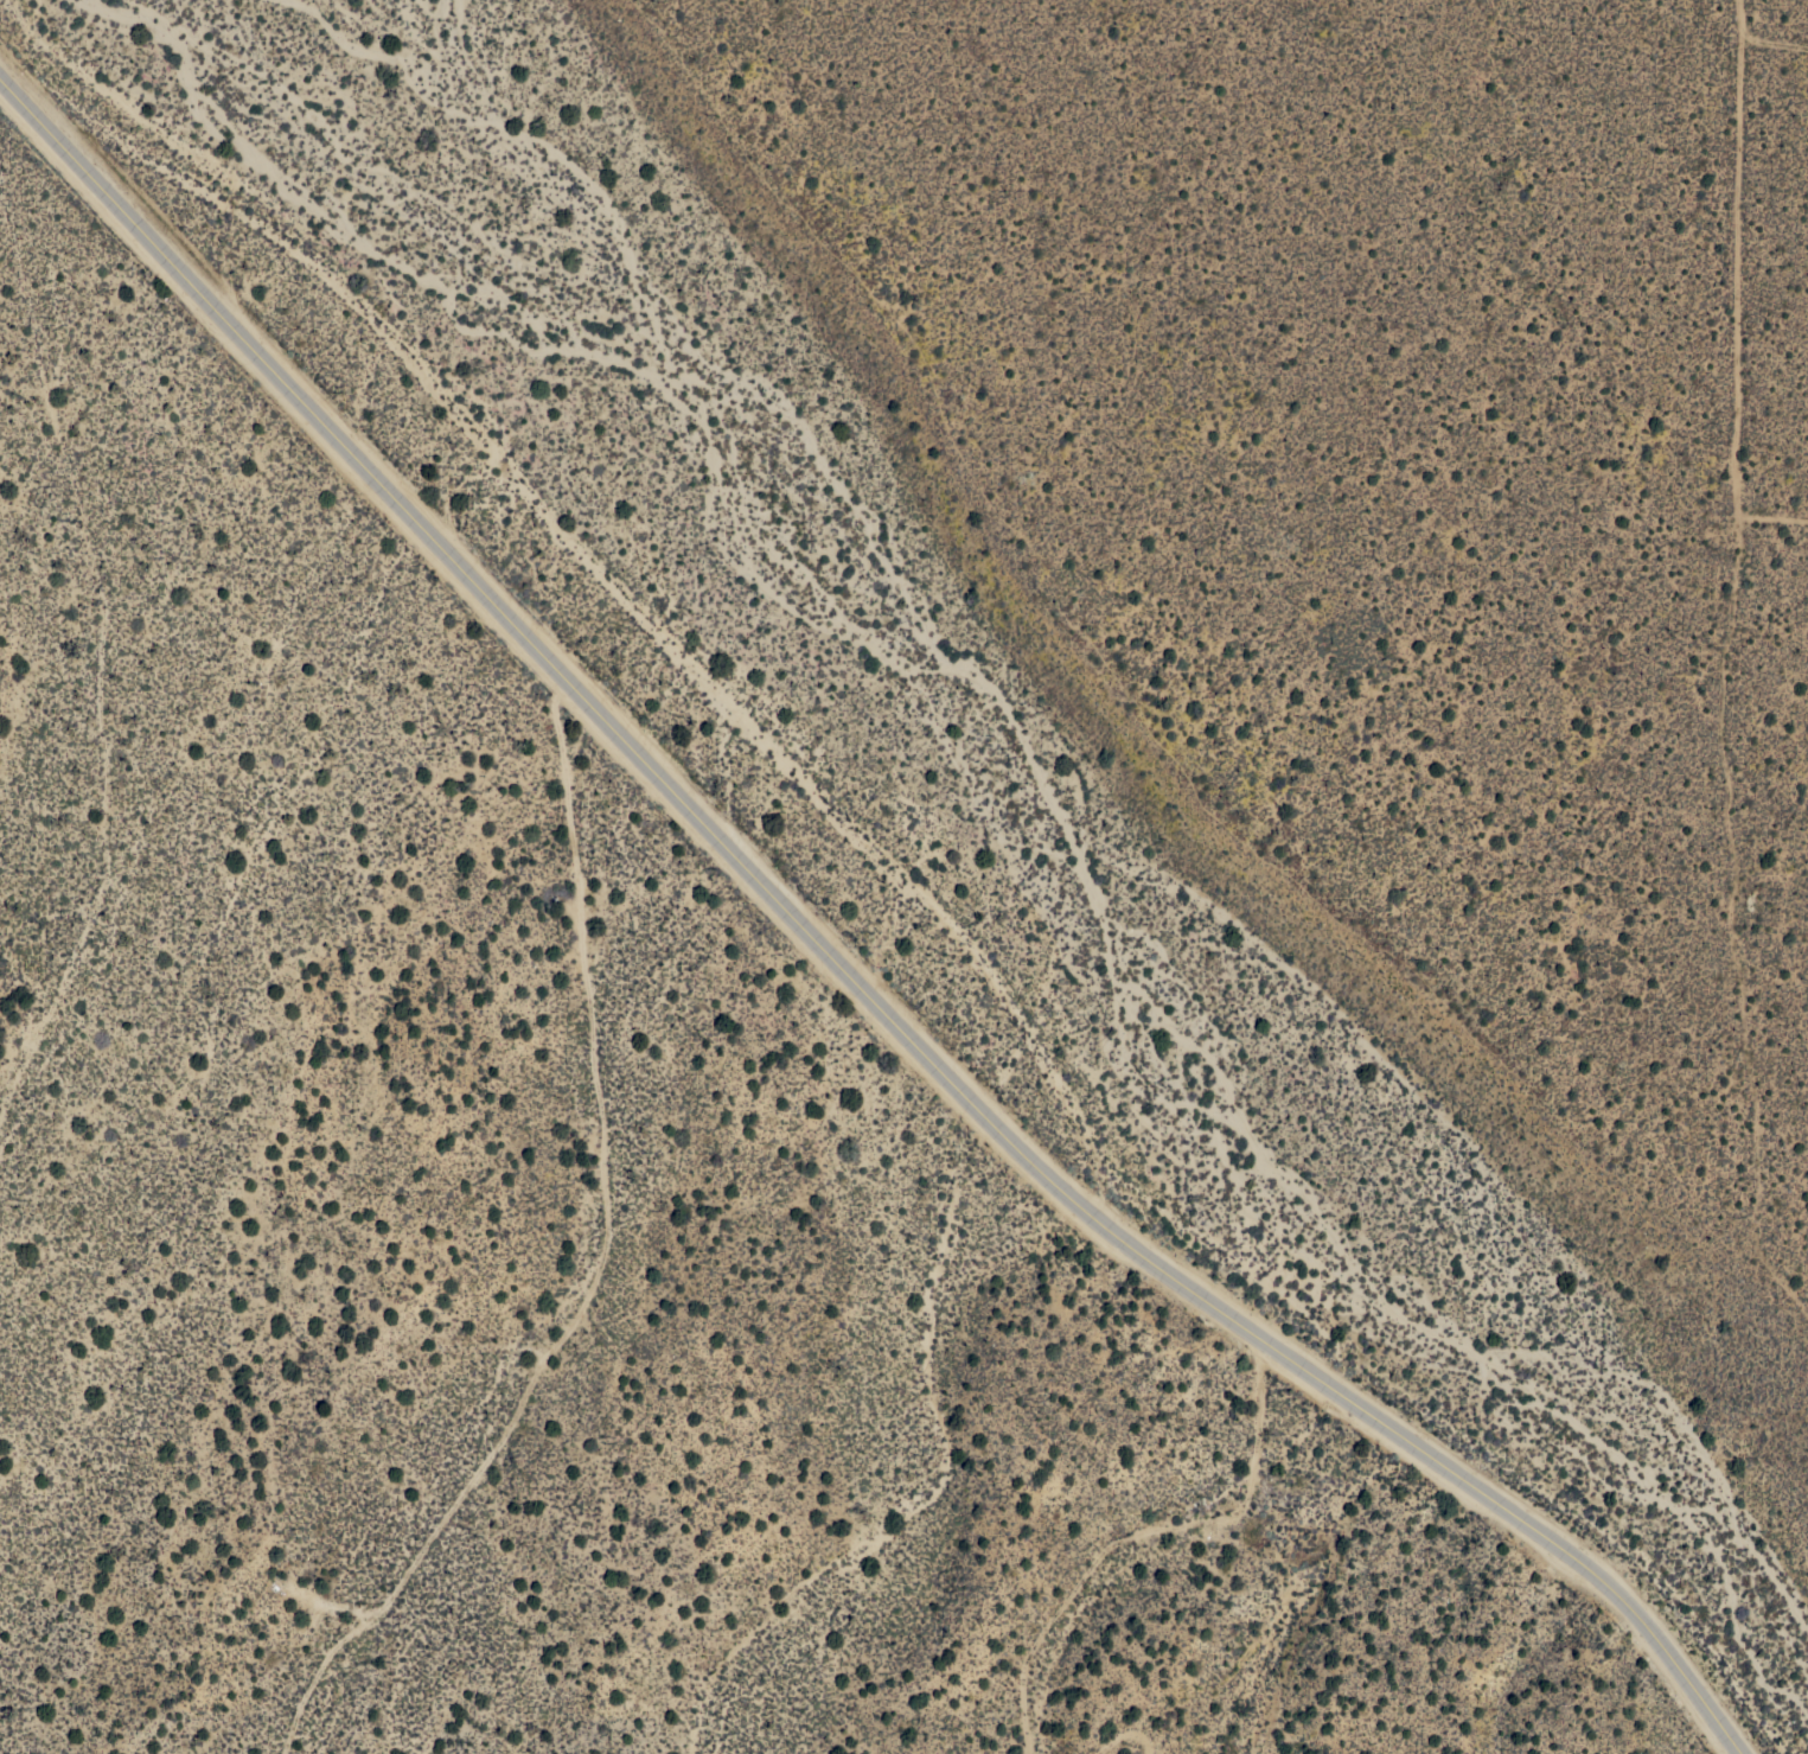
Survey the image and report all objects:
road: (1742, 259)
road: (1776, 517)
road: (833, 961)

